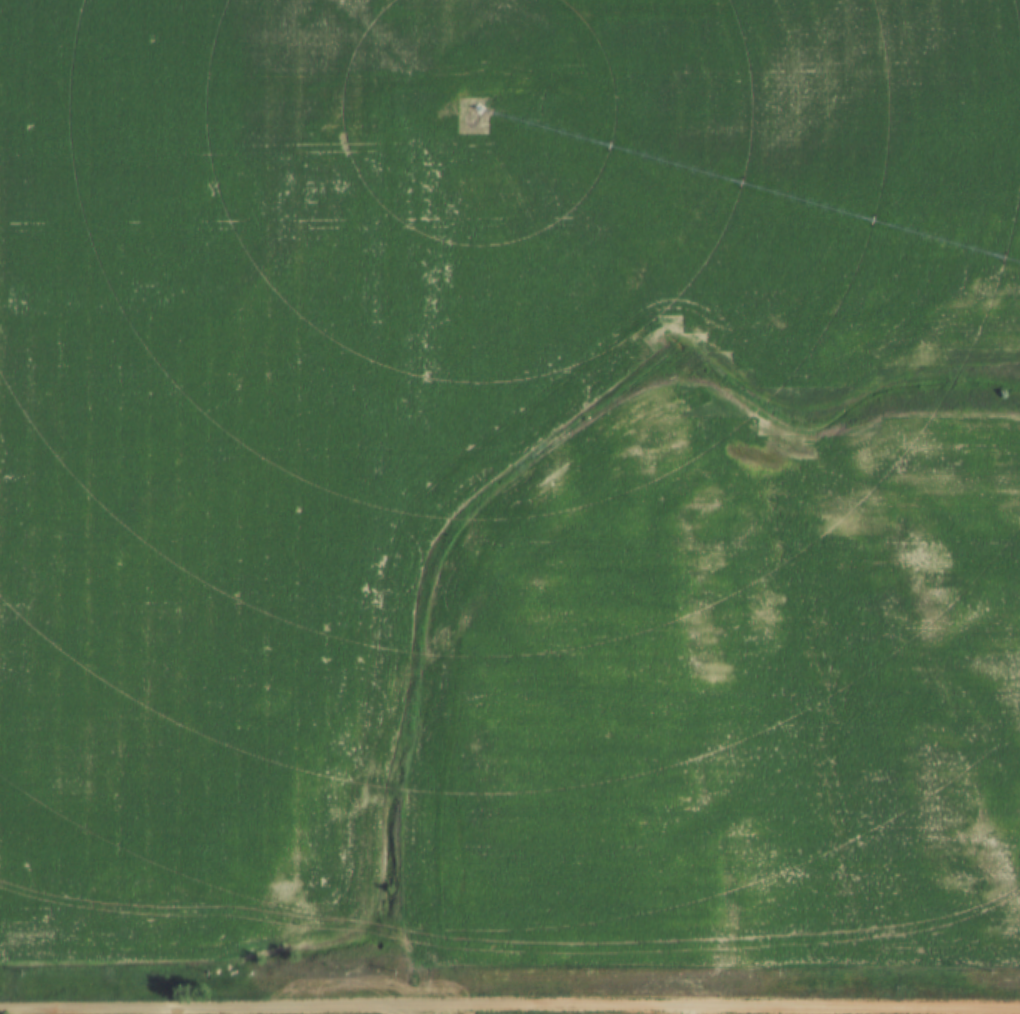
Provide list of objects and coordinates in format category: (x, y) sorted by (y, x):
road: (669, 312)
road: (458, 639)
road: (710, 1001)
road: (201, 1009)
road: (404, 1011)

